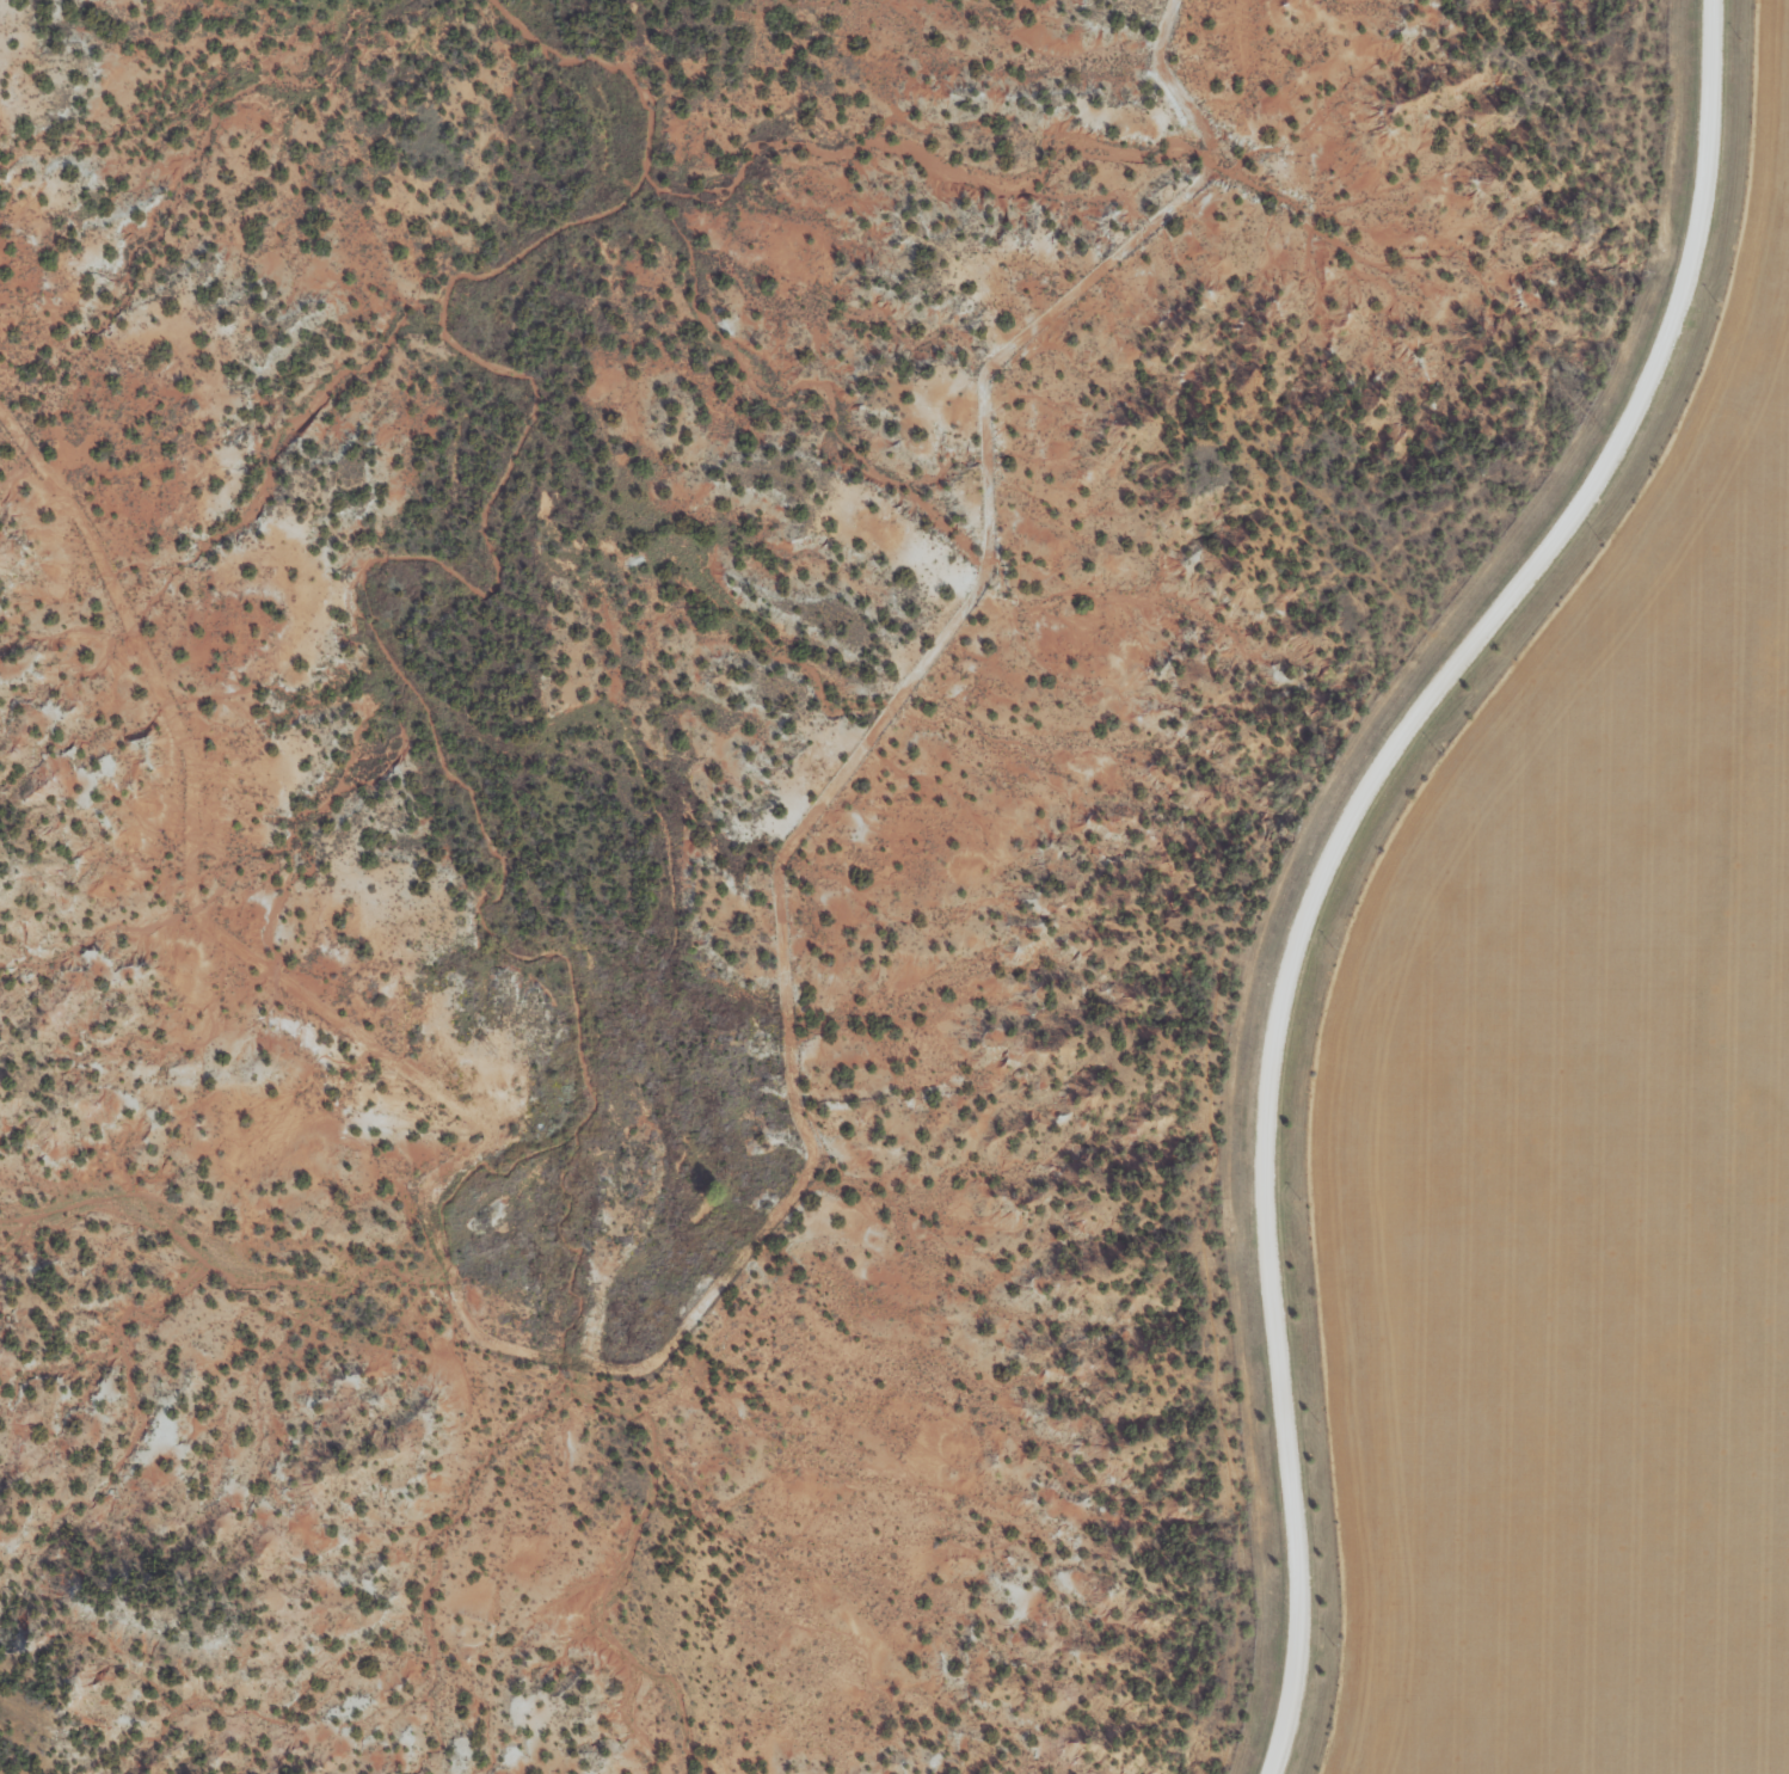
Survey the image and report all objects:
road: (1339, 841)

